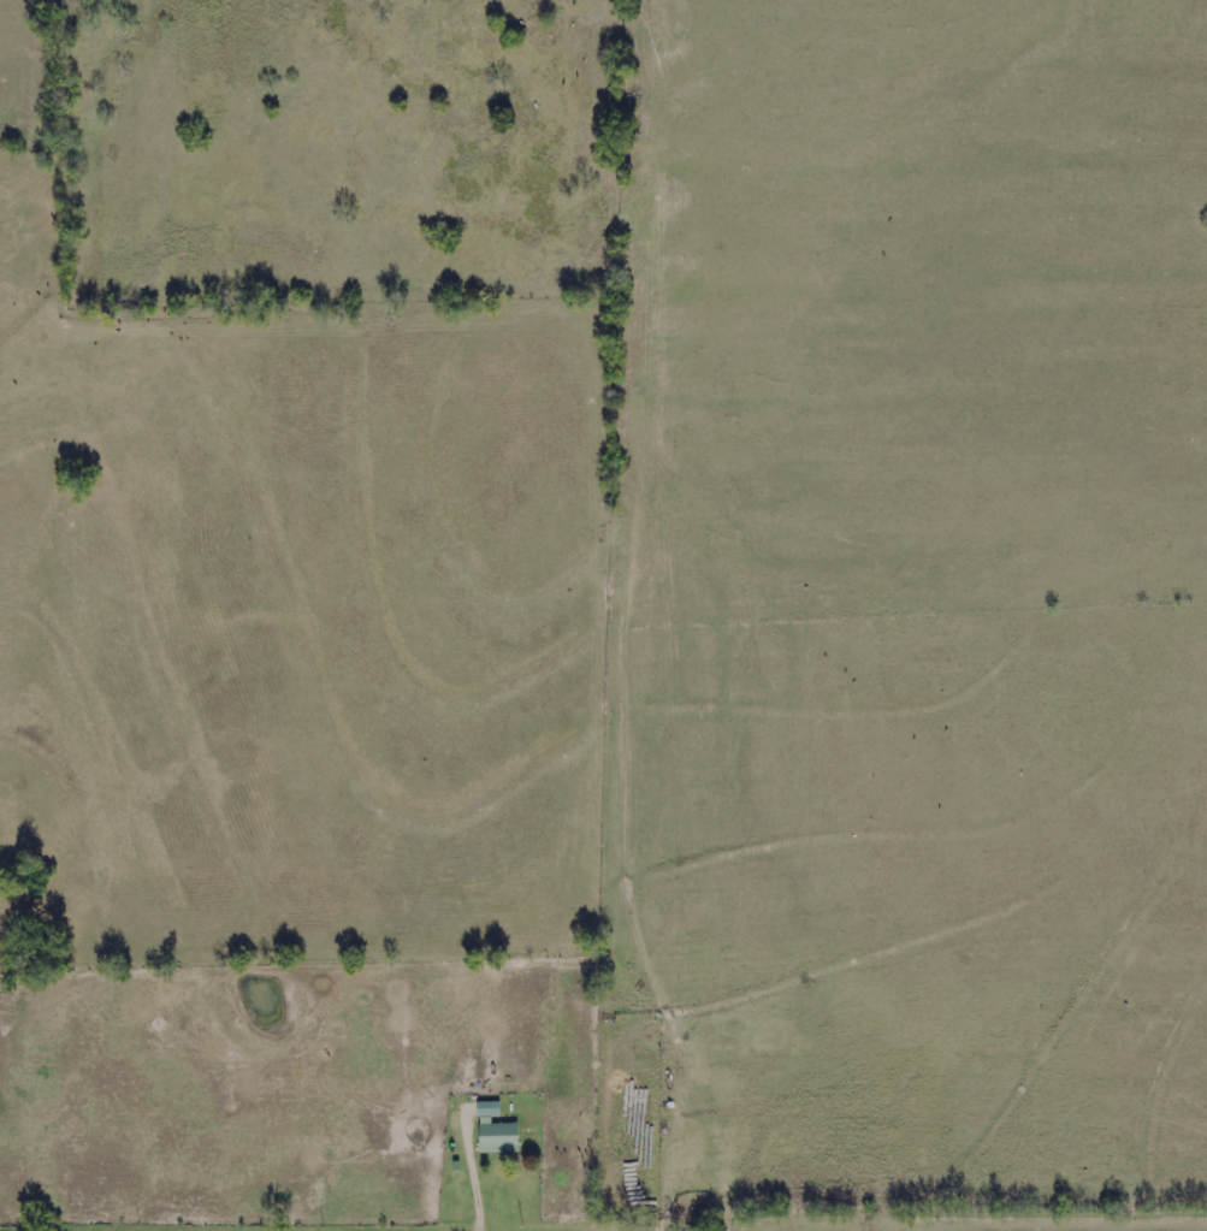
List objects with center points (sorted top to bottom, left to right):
building: (496, 1129)

